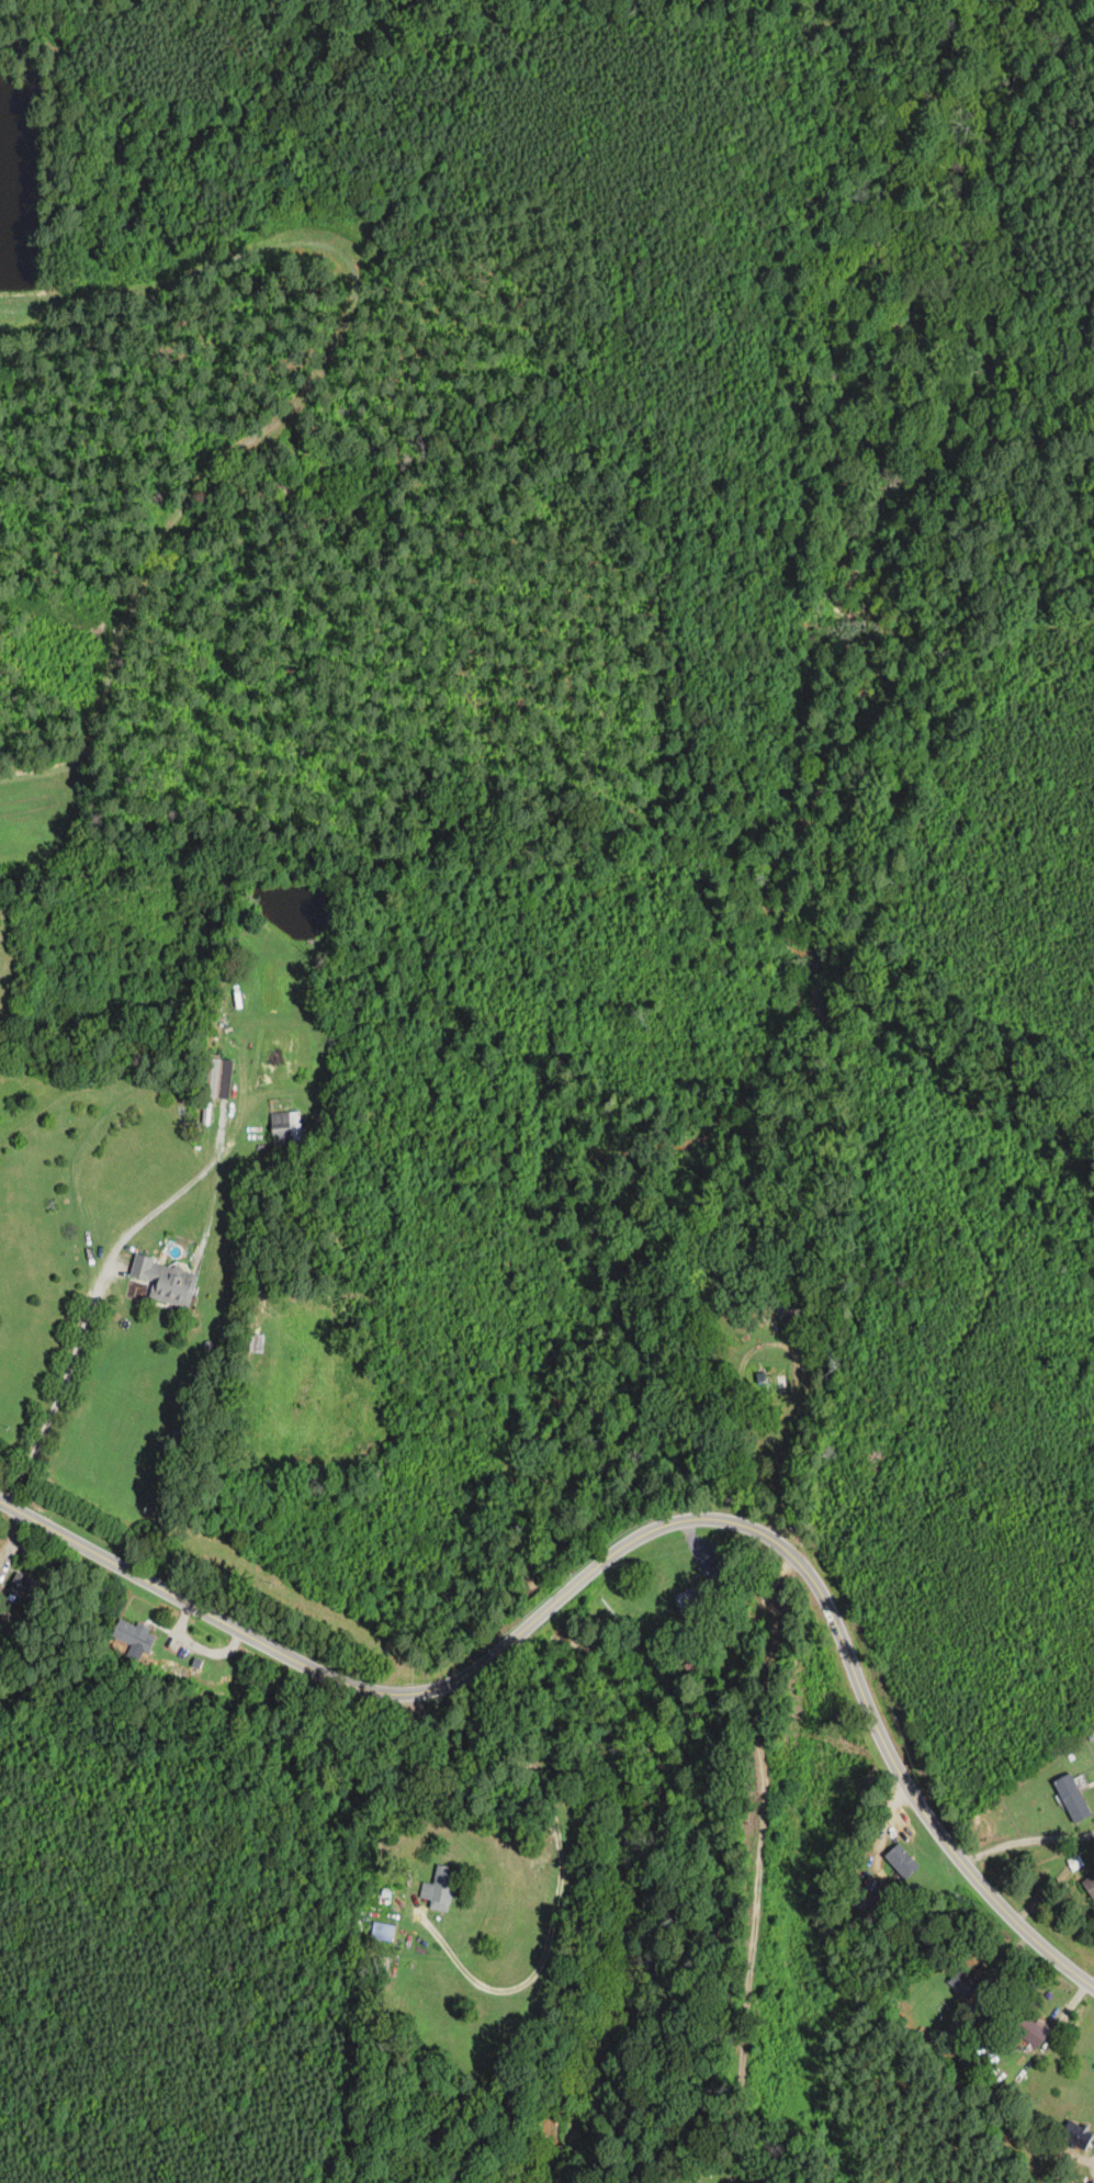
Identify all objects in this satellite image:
road: (193, 487)
building: (218, 1079)
building: (285, 1127)
building: (166, 1281)
road: (99, 1304)
building: (788, 1315)
building: (255, 1343)
road: (742, 1369)
building: (774, 1380)
road: (697, 1543)
road: (623, 1545)
building: (25, 1587)
building: (698, 1596)
building: (133, 1635)
building: (1072, 1798)
road: (891, 1814)
road: (1026, 1839)
building: (901, 1861)
road: (759, 1863)
road: (562, 1870)
building: (1089, 1884)
building: (440, 1889)
road: (1041, 1898)
road: (1010, 1959)
building: (963, 1983)
road: (1070, 2010)
building: (1030, 2032)
building: (1076, 2135)

